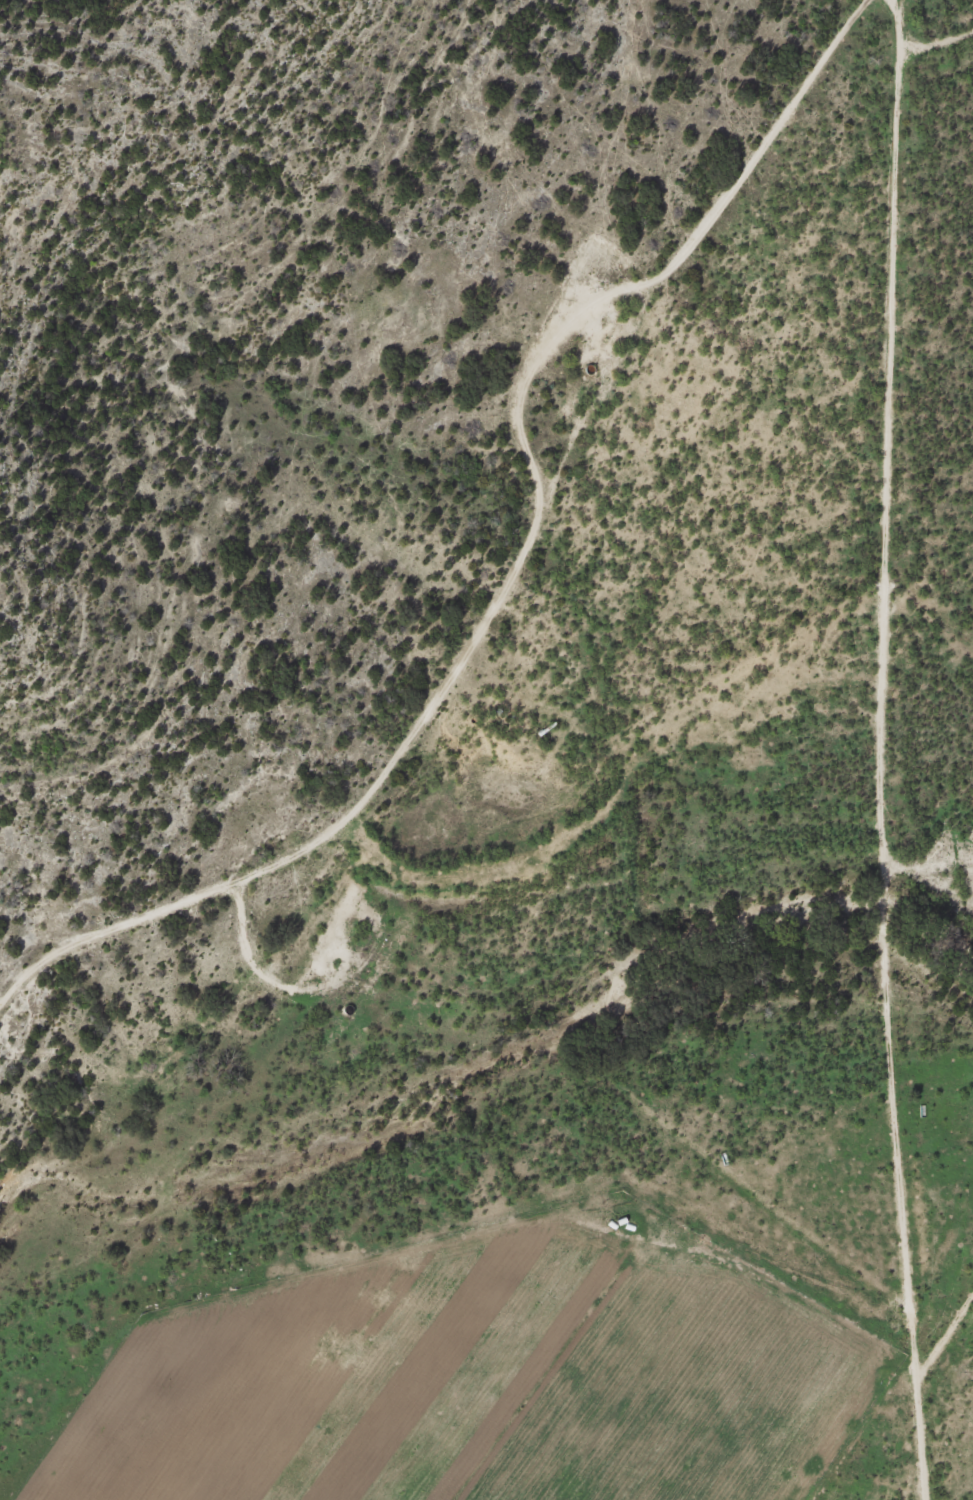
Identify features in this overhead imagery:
road: (509, 575)

